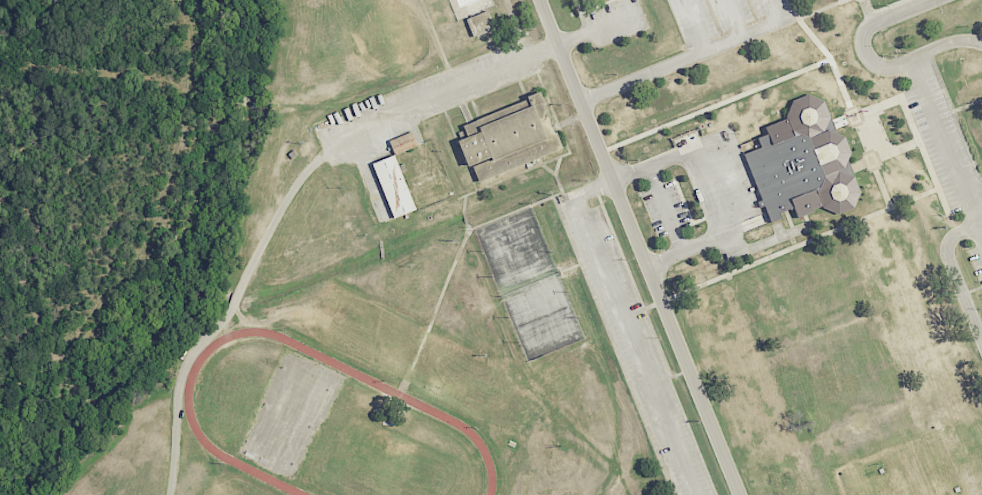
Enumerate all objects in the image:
road: (733, 17)
building: (481, 23)
parking lot: (726, 23)
road: (692, 25)
road: (598, 29)
road: (750, 31)
road: (877, 65)
road: (642, 76)
road: (847, 100)
road: (716, 105)
road: (967, 105)
road: (867, 110)
parking lot: (942, 138)
building: (509, 140)
building: (403, 143)
road: (946, 144)
road: (925, 154)
road: (885, 155)
building: (803, 163)
building: (394, 186)
road: (976, 198)
road: (285, 201)
parking lot: (664, 208)
road: (665, 208)
road: (712, 208)
road: (688, 212)
road: (807, 219)
road: (790, 220)
road: (641, 247)
road: (791, 248)
road: (686, 250)
parking lot: (977, 261)
road: (451, 267)
road: (955, 274)
road: (637, 291)
road: (626, 329)
road: (614, 345)
parking lot: (637, 346)
track: (419, 404)
track: (327, 425)
park: (908, 470)

